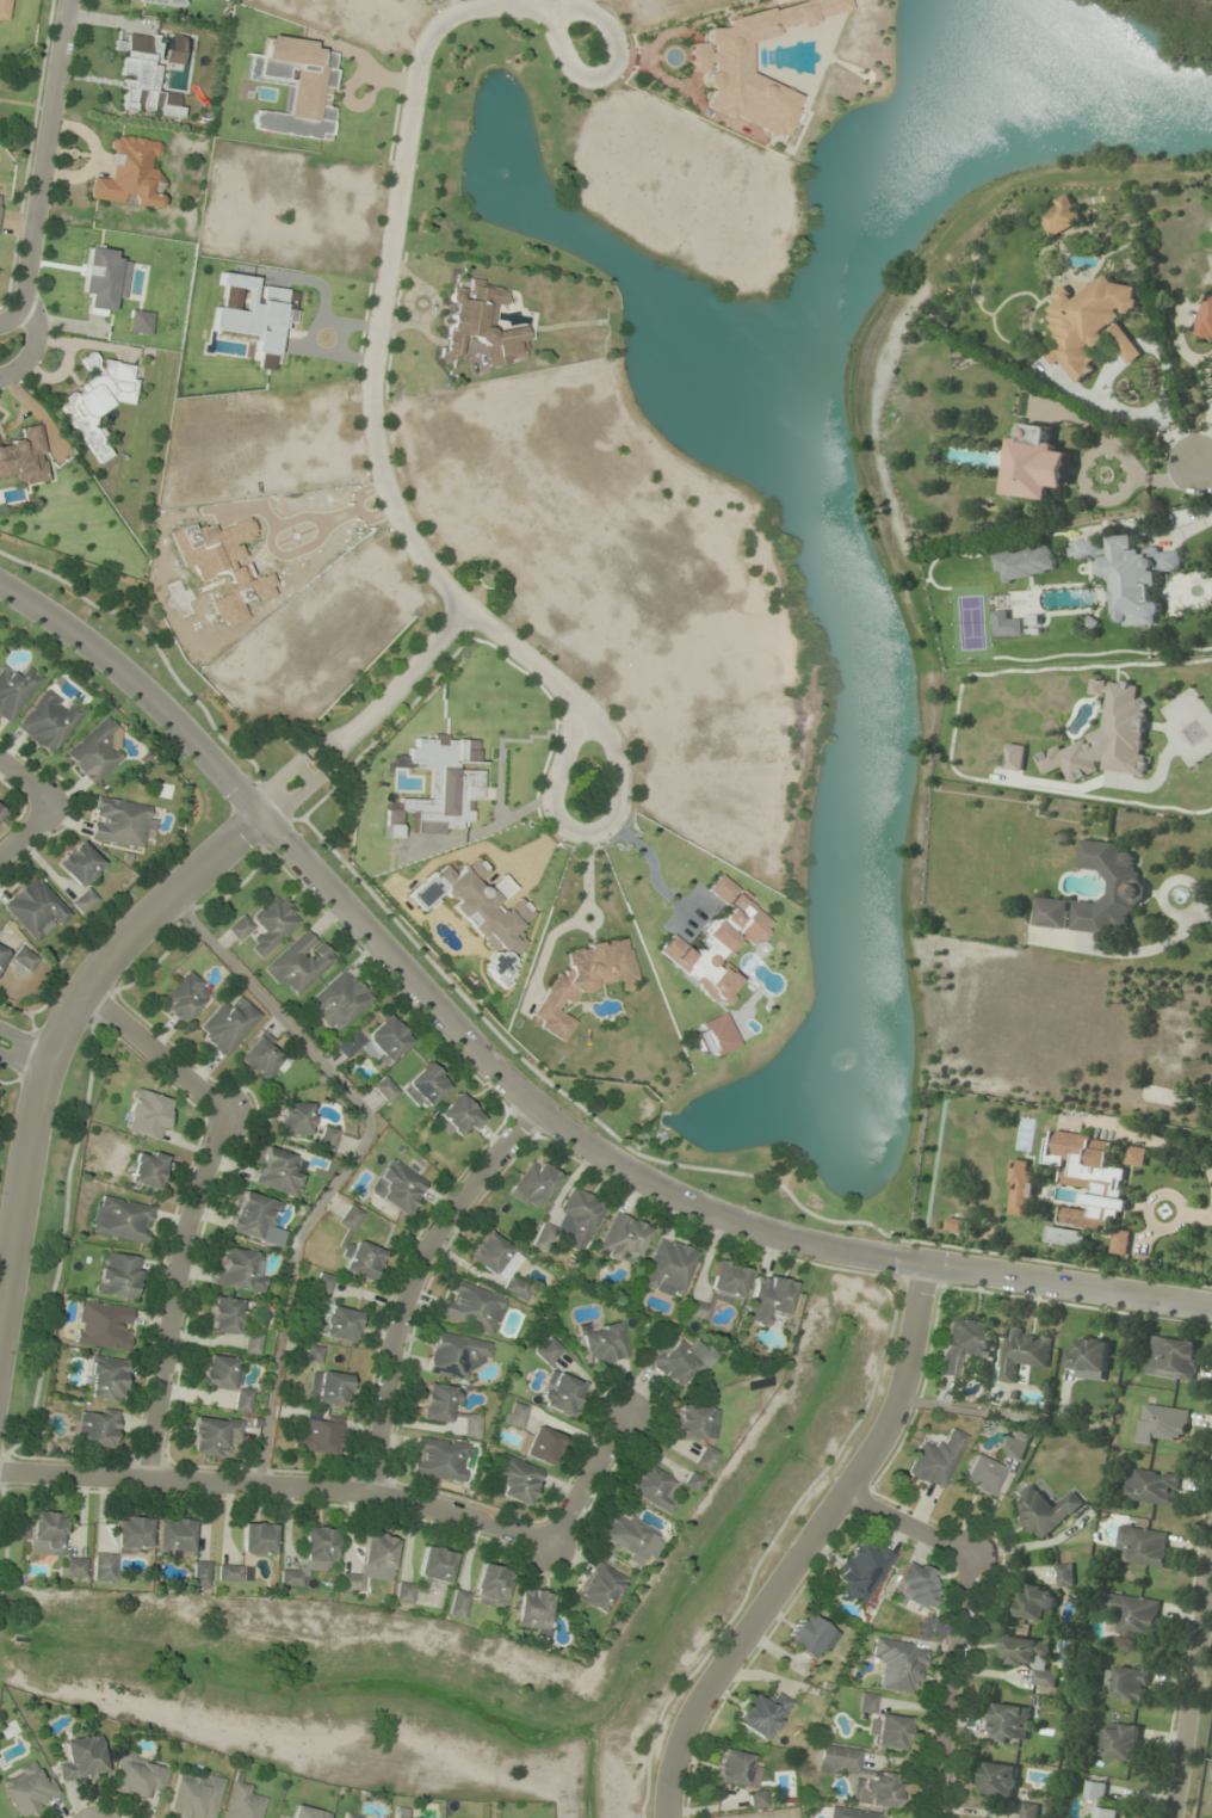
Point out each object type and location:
building: (162, 2)
building: (172, 45)
building: (716, 58)
building: (142, 78)
building: (293, 86)
road: (400, 156)
road: (41, 165)
building: (126, 173)
building: (1060, 216)
building: (1205, 320)
building: (480, 323)
building: (1092, 326)
road: (33, 343)
building: (97, 401)
building: (24, 457)
building: (1037, 464)
road: (1205, 468)
building: (1131, 575)
building: (14, 690)
road: (361, 709)
building: (47, 722)
building: (1107, 739)
building: (94, 751)
building: (1015, 758)
road: (616, 776)
road: (25, 784)
building: (0, 813)
building: (119, 821)
road: (25, 830)
building: (78, 863)
building: (1108, 889)
building: (82, 900)
building: (32, 906)
building: (478, 913)
building: (1051, 913)
building: (272, 924)
building: (239, 926)
building: (717, 943)
building: (1, 954)
building: (23, 959)
building: (298, 962)
building: (583, 980)
building: (184, 997)
building: (338, 1000)
building: (227, 1024)
road: (61, 1028)
building: (713, 1035)
building: (378, 1041)
building: (1171, 1047)
road: (23, 1054)
building: (260, 1056)
building: (423, 1086)
building: (384, 1089)
road: (525, 1093)
building: (146, 1114)
building: (457, 1116)
building: (293, 1117)
building: (327, 1138)
building: (1137, 1155)
road: (351, 1157)
building: (147, 1169)
building: (278, 1171)
building: (1088, 1178)
building: (533, 1184)
building: (397, 1185)
building: (1021, 1189)
road: (192, 1201)
building: (253, 1215)
building: (350, 1216)
building: (580, 1218)
building: (120, 1219)
building: (957, 1224)
building: (544, 1237)
building: (622, 1237)
building: (1066, 1237)
building: (1121, 1243)
building: (493, 1253)
building: (361, 1259)
building: (668, 1268)
building: (239, 1269)
building: (118, 1275)
road: (413, 1281)
building: (726, 1281)
building: (322, 1283)
building: (517, 1288)
building: (768, 1299)
building: (472, 1306)
building: (697, 1309)
building: (233, 1323)
building: (341, 1324)
building: (103, 1325)
building: (602, 1343)
building: (963, 1344)
building: (548, 1350)
building: (313, 1352)
building: (1024, 1352)
building: (455, 1355)
building: (1087, 1355)
building: (1173, 1358)
building: (679, 1361)
building: (106, 1379)
building: (225, 1379)
building: (328, 1387)
building: (559, 1392)
building: (438, 1403)
building: (517, 1415)
building: (694, 1422)
building: (1161, 1423)
building: (471, 1424)
building: (97, 1426)
building: (214, 1435)
building: (319, 1435)
building: (542, 1444)
building: (1015, 1446)
building: (439, 1459)
building: (705, 1459)
building: (936, 1460)
building: (981, 1474)
building: (517, 1479)
road: (586, 1481)
building: (692, 1481)
road: (277, 1485)
building: (653, 1486)
building: (1151, 1487)
building: (1043, 1510)
building: (49, 1532)
building: (132, 1535)
building: (631, 1535)
building: (174, 1536)
building: (258, 1539)
road: (805, 1545)
building: (1143, 1546)
building: (313, 1555)
building: (372, 1563)
building: (435, 1565)
building: (104, 1566)
building: (72, 1567)
building: (862, 1571)
building: (229, 1572)
building: (200, 1573)
building: (1065, 1574)
building: (491, 1584)
building: (915, 1585)
building: (600, 1586)
building: (404, 1592)
building: (458, 1603)
building: (1037, 1603)
building: (533, 1609)
road: (961, 1614)
building: (1131, 1615)
building: (808, 1637)
building: (1022, 1650)
building: (898, 1664)
road: (1191, 1676)
building: (1044, 1678)
building: (1126, 1683)
building: (867, 1702)
building: (761, 1714)
building: (1009, 1723)
building: (890, 1731)
building: (1119, 1742)
building: (82, 1760)
building: (736, 1769)
building: (138, 1775)
building: (858, 1776)
building: (998, 1780)
building: (29, 1788)
building: (193, 1794)
building: (758, 1799)
building: (1101, 1801)
building: (243, 1802)
building: (1028, 1811)
building: (308, 1812)
building: (851, 1813)
building: (353, 1816)
building: (392, 1817)

